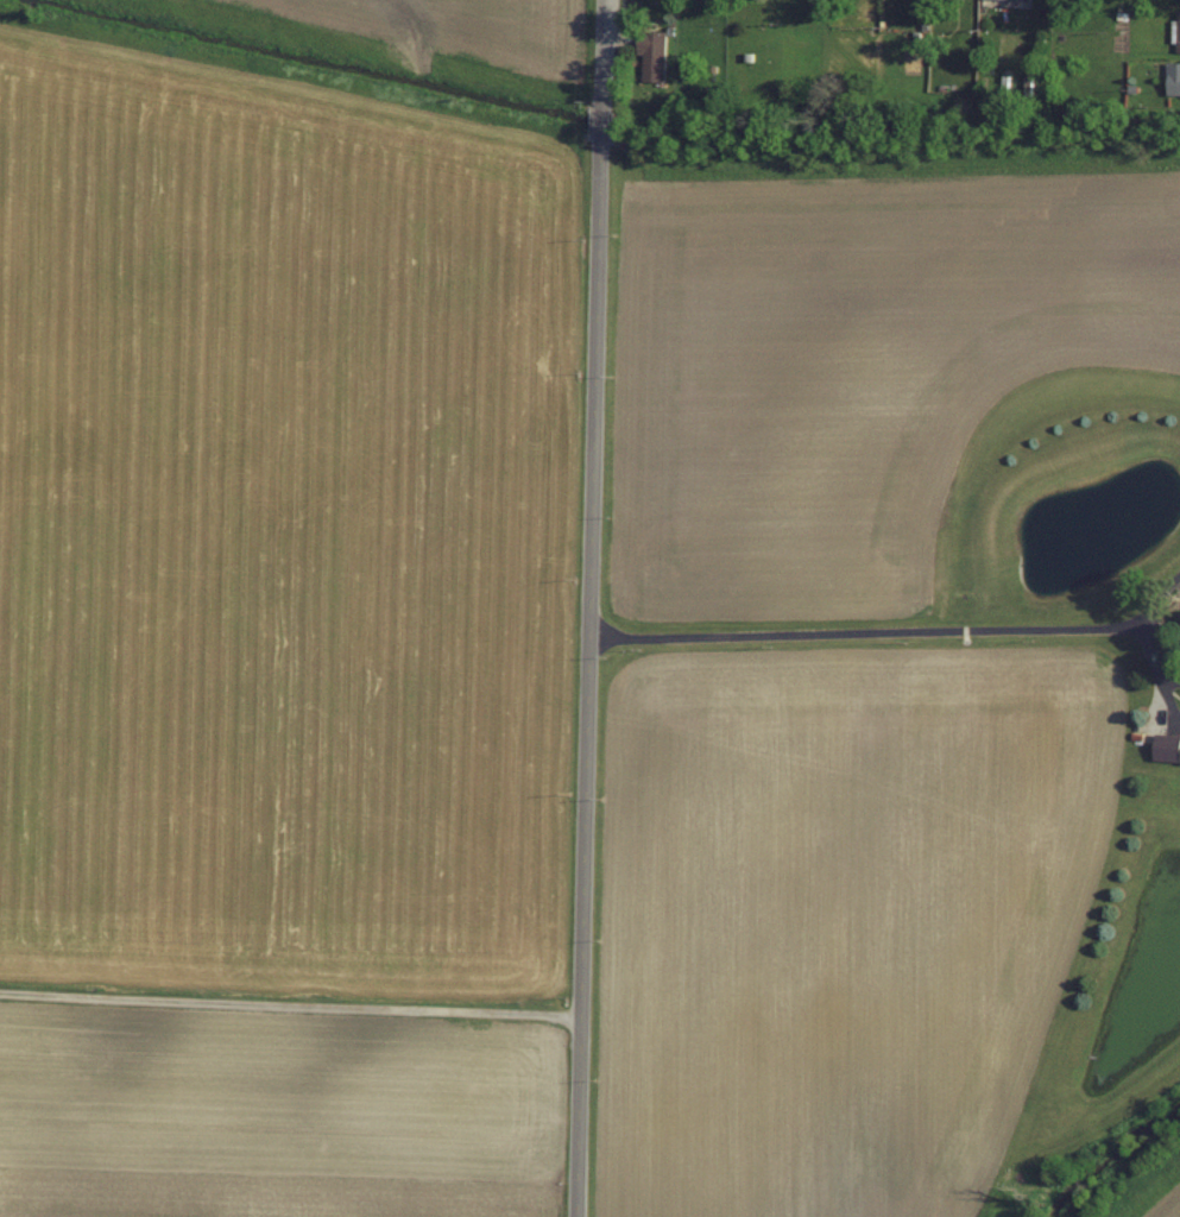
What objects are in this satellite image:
building: (1176, 27)
building: (654, 52)
building: (1174, 77)
building: (1128, 494)
road: (591, 607)
road: (897, 631)
road: (1157, 669)
building: (1163, 745)
road: (292, 1000)

